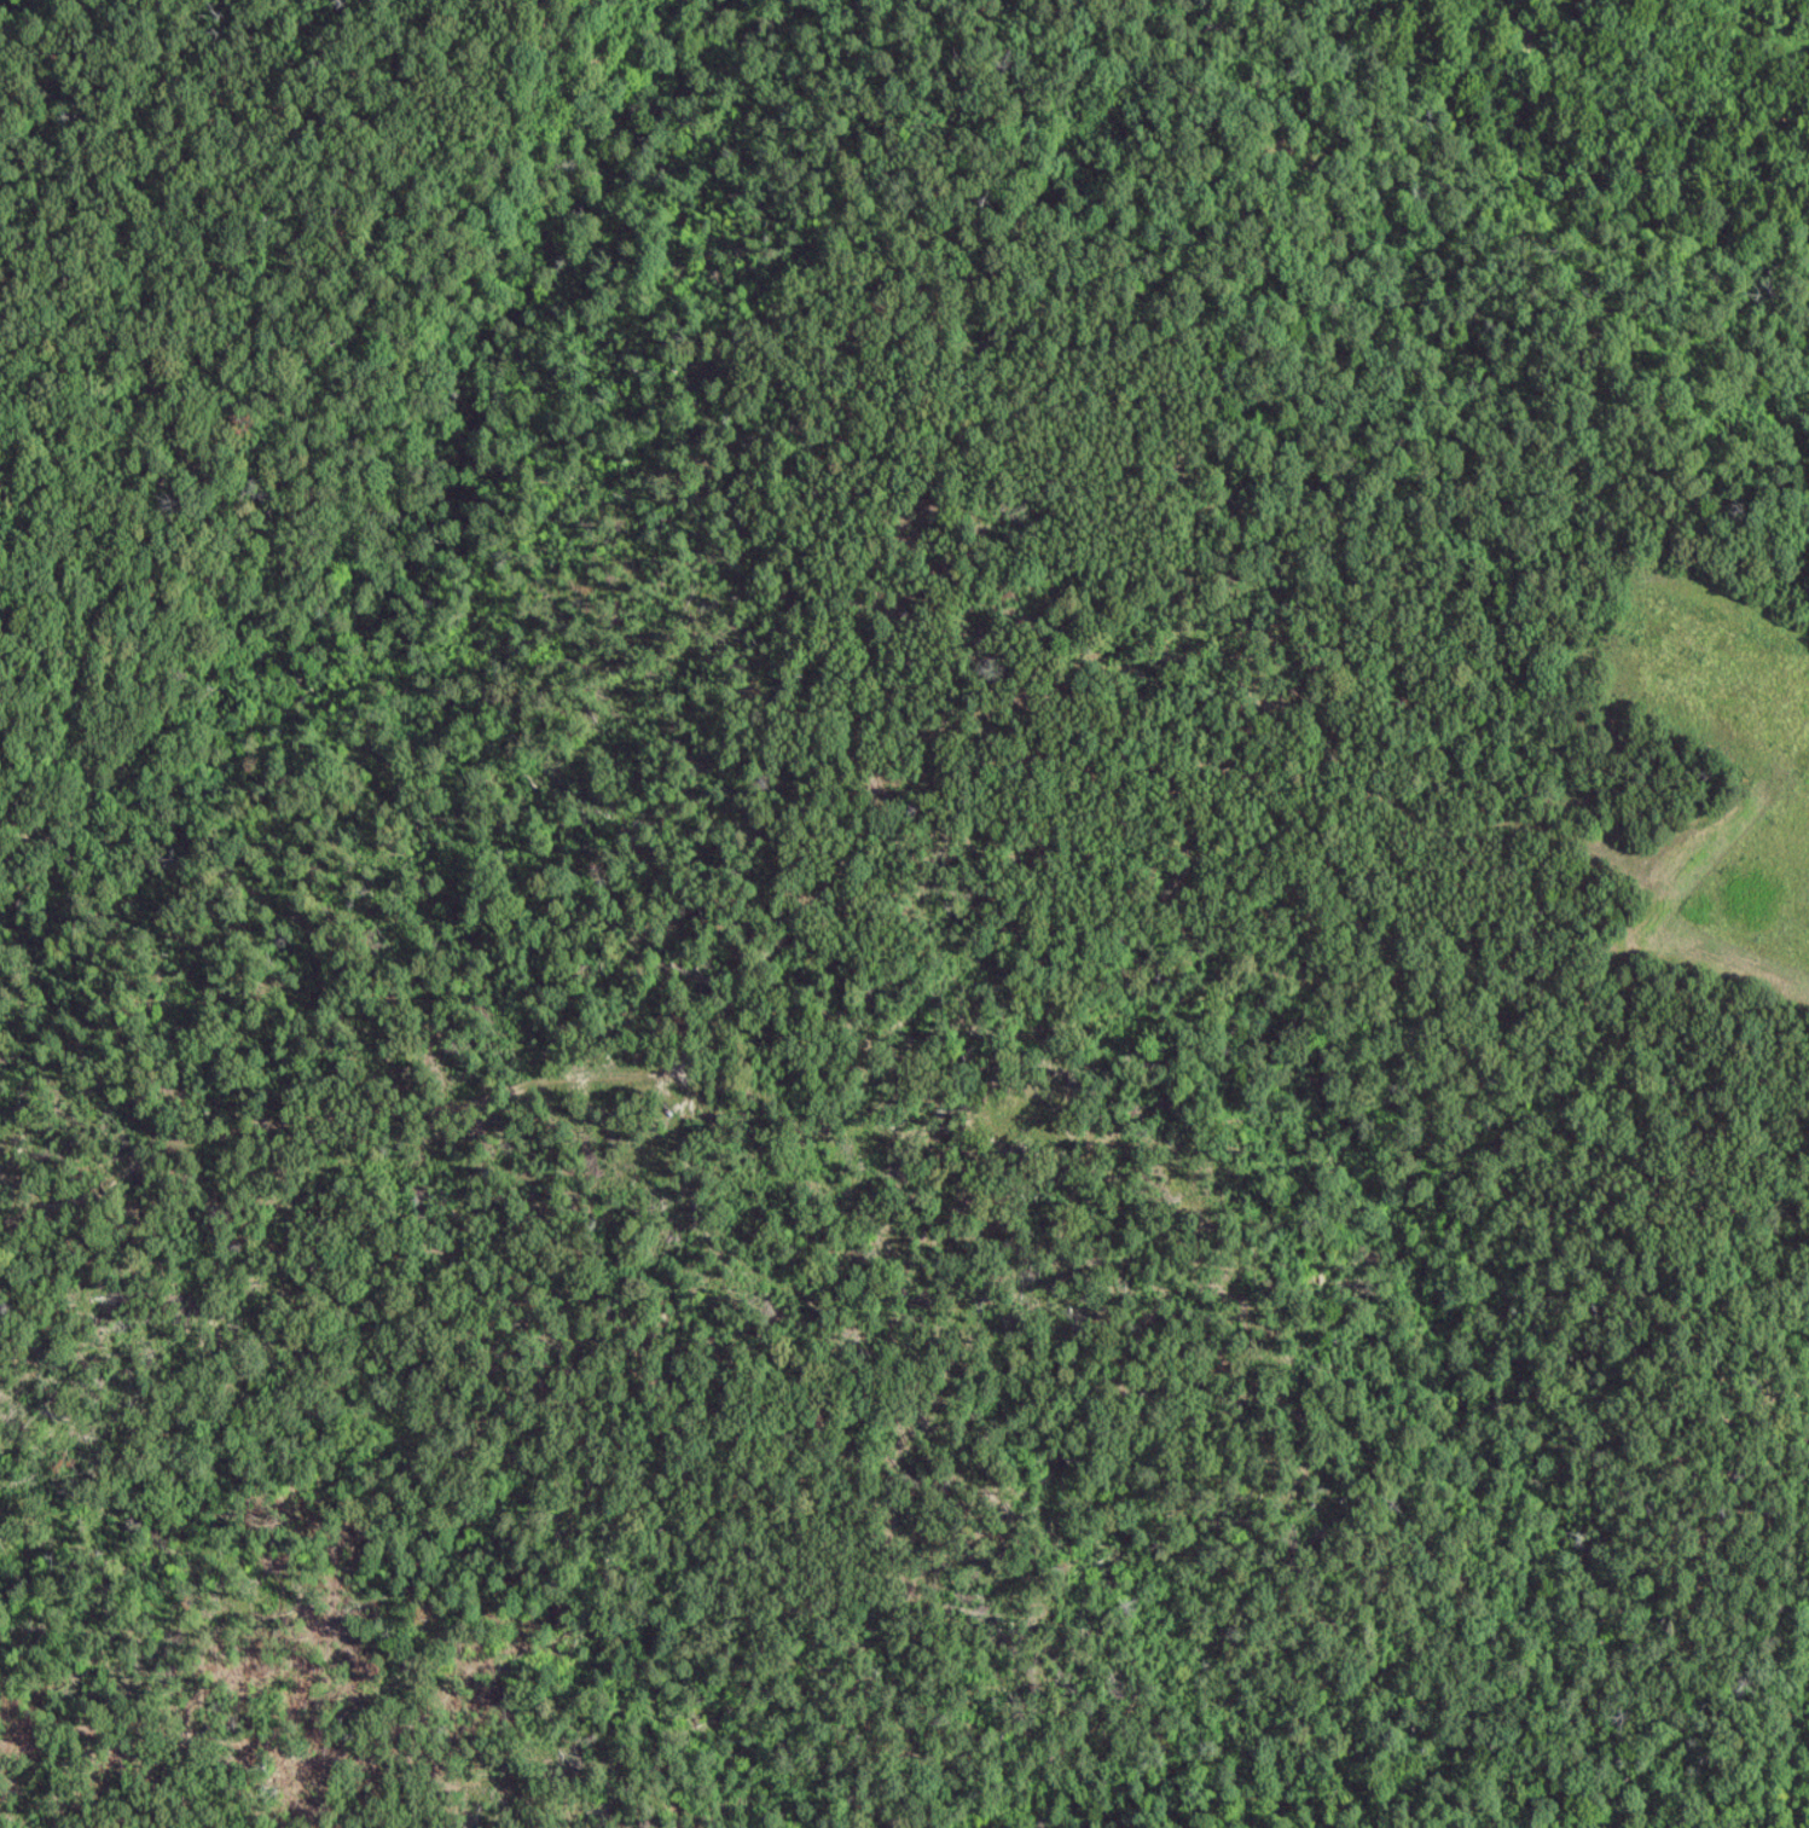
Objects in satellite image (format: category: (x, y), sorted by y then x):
road: (586, 1801)

